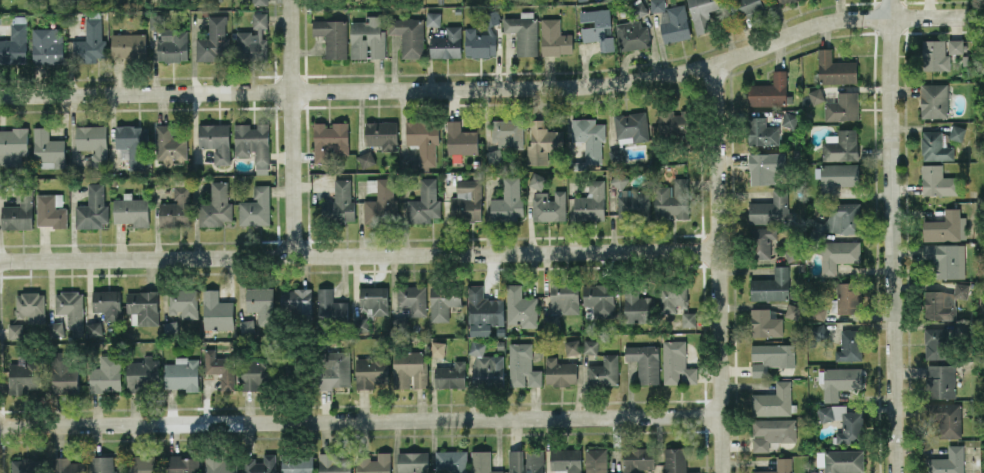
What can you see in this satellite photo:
building: (260, 1)
building: (783, 1)
building: (657, 5)
building: (748, 6)
building: (702, 14)
building: (432, 18)
building: (675, 24)
building: (598, 28)
building: (523, 32)
building: (632, 34)
building: (408, 35)
building: (332, 36)
building: (367, 37)
building: (482, 37)
building: (254, 38)
building: (554, 38)
building: (169, 40)
building: (213, 40)
building: (90, 43)
building: (446, 43)
building: (14, 45)
building: (47, 45)
building: (128, 45)
building: (955, 46)
building: (934, 55)
building: (835, 68)
road: (491, 87)
building: (769, 90)
building: (815, 95)
building: (933, 100)
building: (842, 107)
building: (789, 119)
building: (631, 127)
road: (290, 128)
building: (761, 131)
building: (506, 132)
building: (957, 132)
building: (381, 134)
building: (589, 137)
building: (460, 138)
building: (215, 140)
building: (329, 140)
building: (423, 140)
building: (542, 141)
building: (92, 142)
building: (133, 144)
building: (169, 144)
building: (253, 144)
building: (13, 145)
building: (840, 145)
building: (934, 146)
building: (47, 148)
building: (616, 155)
building: (493, 157)
building: (365, 159)
building: (763, 166)
building: (837, 176)
building: (618, 178)
building: (536, 180)
building: (937, 181)
building: (672, 198)
building: (466, 200)
building: (507, 200)
building: (590, 201)
building: (340, 202)
building: (380, 202)
building: (424, 202)
building: (633, 204)
building: (549, 205)
building: (215, 206)
building: (256, 206)
building: (92, 207)
building: (176, 208)
building: (50, 209)
building: (772, 209)
building: (18, 211)
building: (131, 211)
building: (843, 217)
building: (945, 226)
road: (892, 236)
building: (762, 241)
building: (837, 254)
road: (359, 255)
building: (946, 259)
road: (718, 269)
building: (771, 285)
building: (673, 297)
building: (848, 297)
building: (412, 298)
building: (564, 298)
building: (599, 298)
building: (296, 299)
building: (374, 299)
building: (443, 301)
building: (944, 301)
building: (182, 302)
building: (107, 303)
building: (261, 304)
building: (143, 305)
building: (330, 305)
building: (29, 306)
building: (520, 306)
building: (637, 306)
building: (70, 309)
building: (792, 310)
building: (216, 311)
building: (483, 311)
building: (819, 311)
building: (688, 318)
building: (764, 322)
building: (361, 325)
building: (246, 326)
building: (56, 328)
building: (94, 328)
building: (169, 329)
building: (15, 331)
building: (819, 331)
building: (937, 342)
building: (849, 344)
building: (572, 346)
building: (590, 346)
building: (437, 348)
building: (770, 357)
building: (644, 361)
building: (676, 363)
building: (485, 365)
building: (522, 365)
building: (220, 367)
building: (409, 368)
building: (335, 369)
building: (371, 370)
building: (64, 371)
building: (603, 371)
building: (560, 372)
building: (181, 373)
building: (256, 373)
building: (106, 374)
building: (141, 374)
building: (450, 375)
building: (24, 376)
building: (941, 380)
building: (840, 381)
building: (773, 400)
building: (946, 418)
road: (360, 422)
building: (844, 422)
building: (771, 432)
building: (637, 459)
building: (566, 460)
building: (596, 460)
building: (676, 460)
building: (843, 460)
building: (413, 461)
building: (450, 461)
building: (526, 461)
building: (947, 461)
building: (482, 462)
building: (297, 463)
building: (335, 463)
building: (374, 463)
building: (101, 464)
building: (141, 464)
building: (182, 464)
building: (221, 464)
building: (259, 464)
building: (25, 465)
building: (66, 465)
building: (778, 466)

